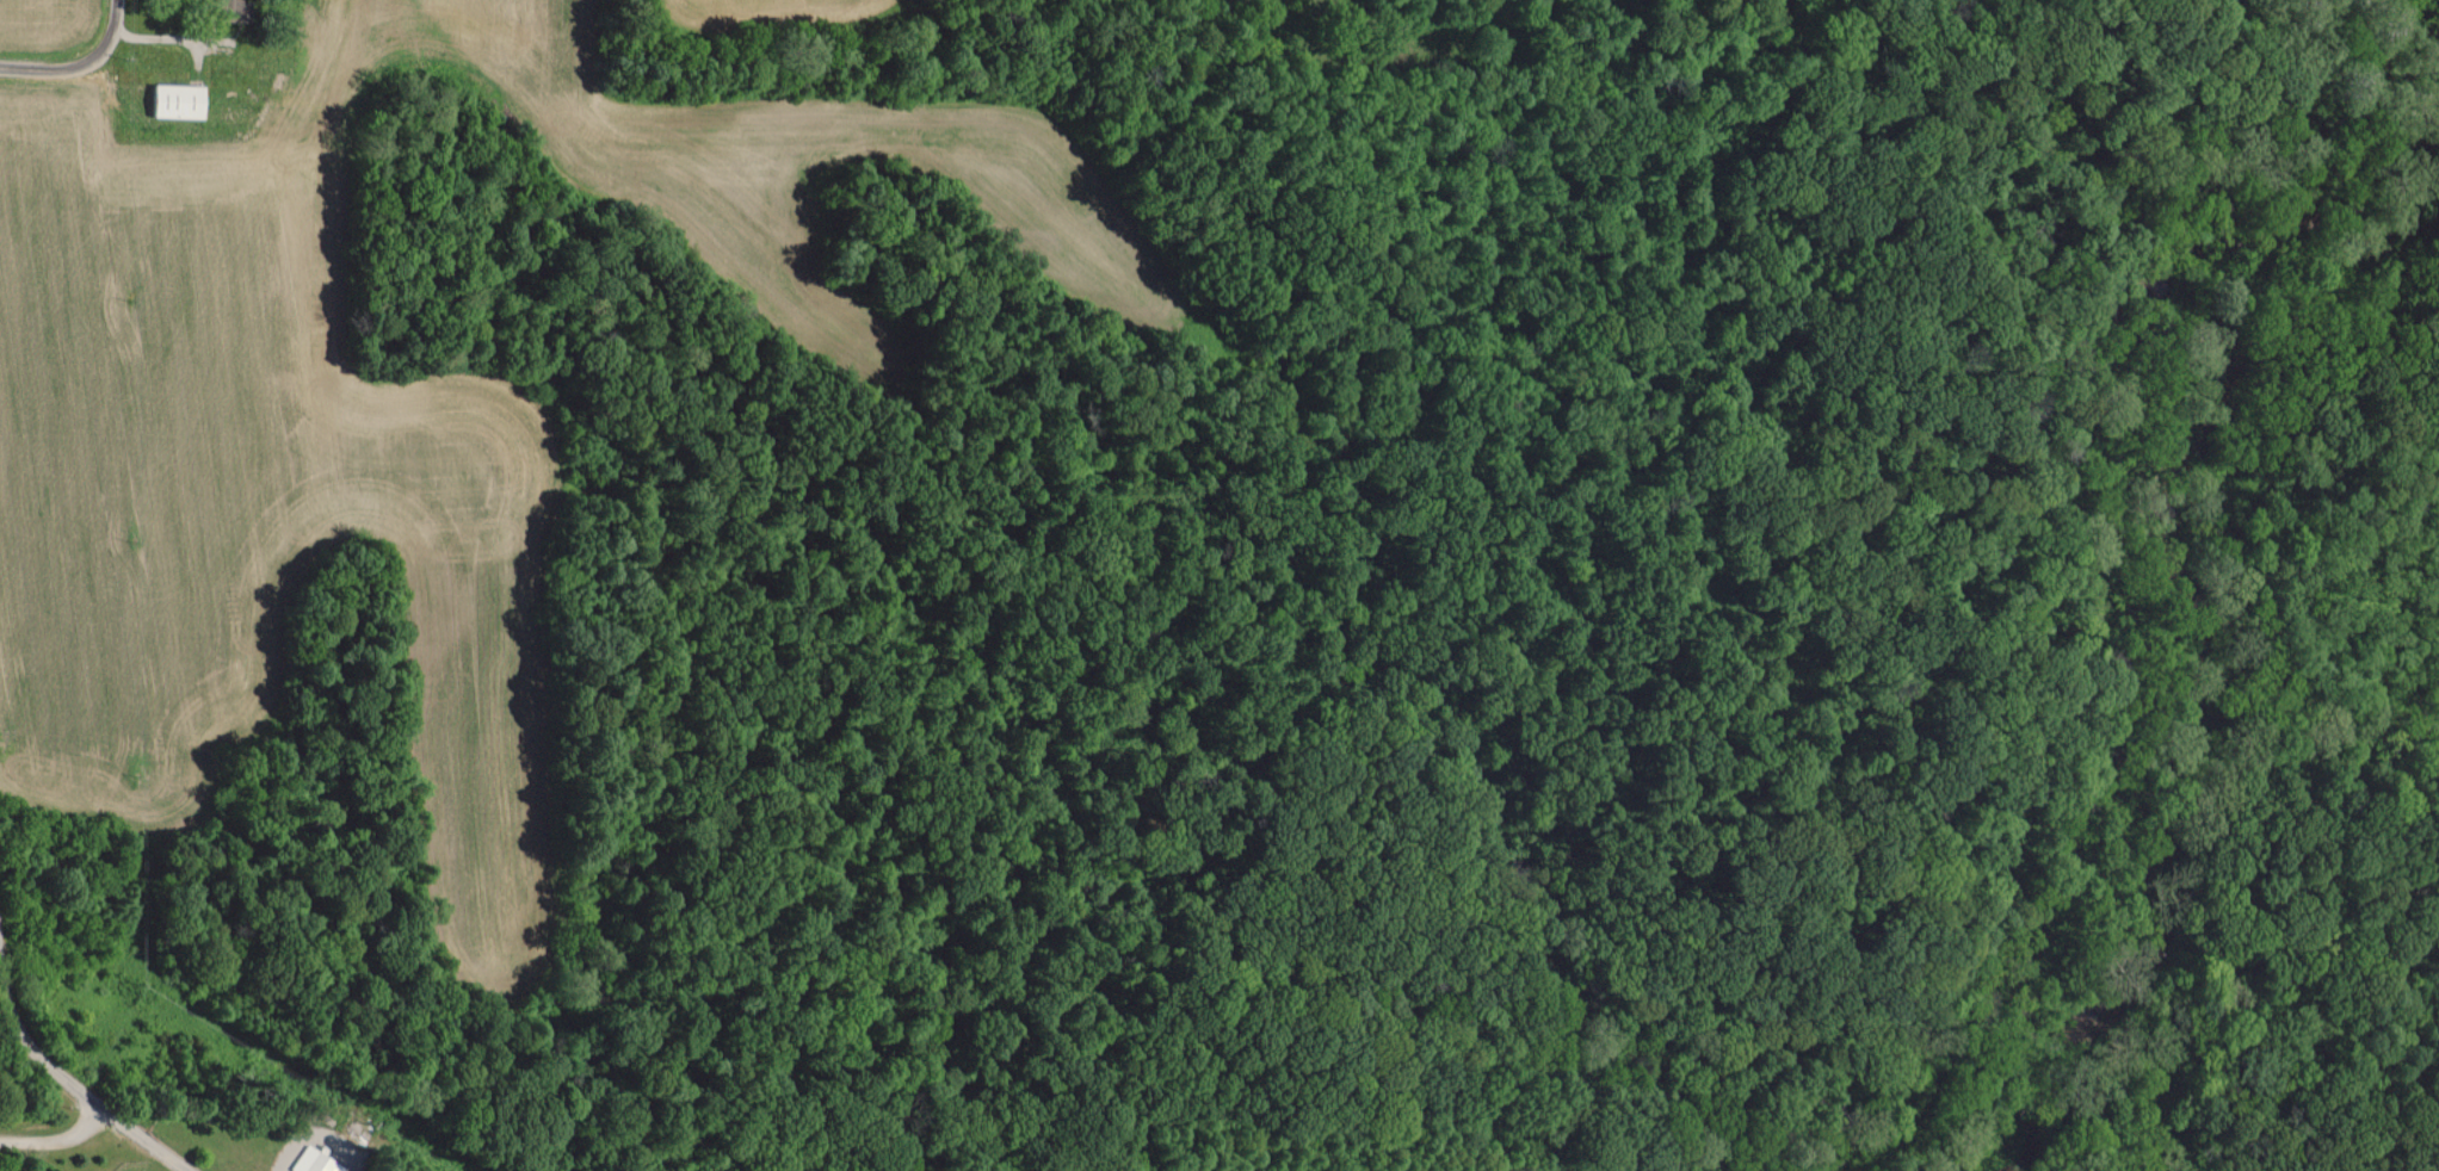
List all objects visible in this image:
building: (226, 10)
road: (79, 68)
building: (173, 99)
road: (21, 1040)
road: (143, 1138)
road: (53, 1142)
building: (311, 1161)

